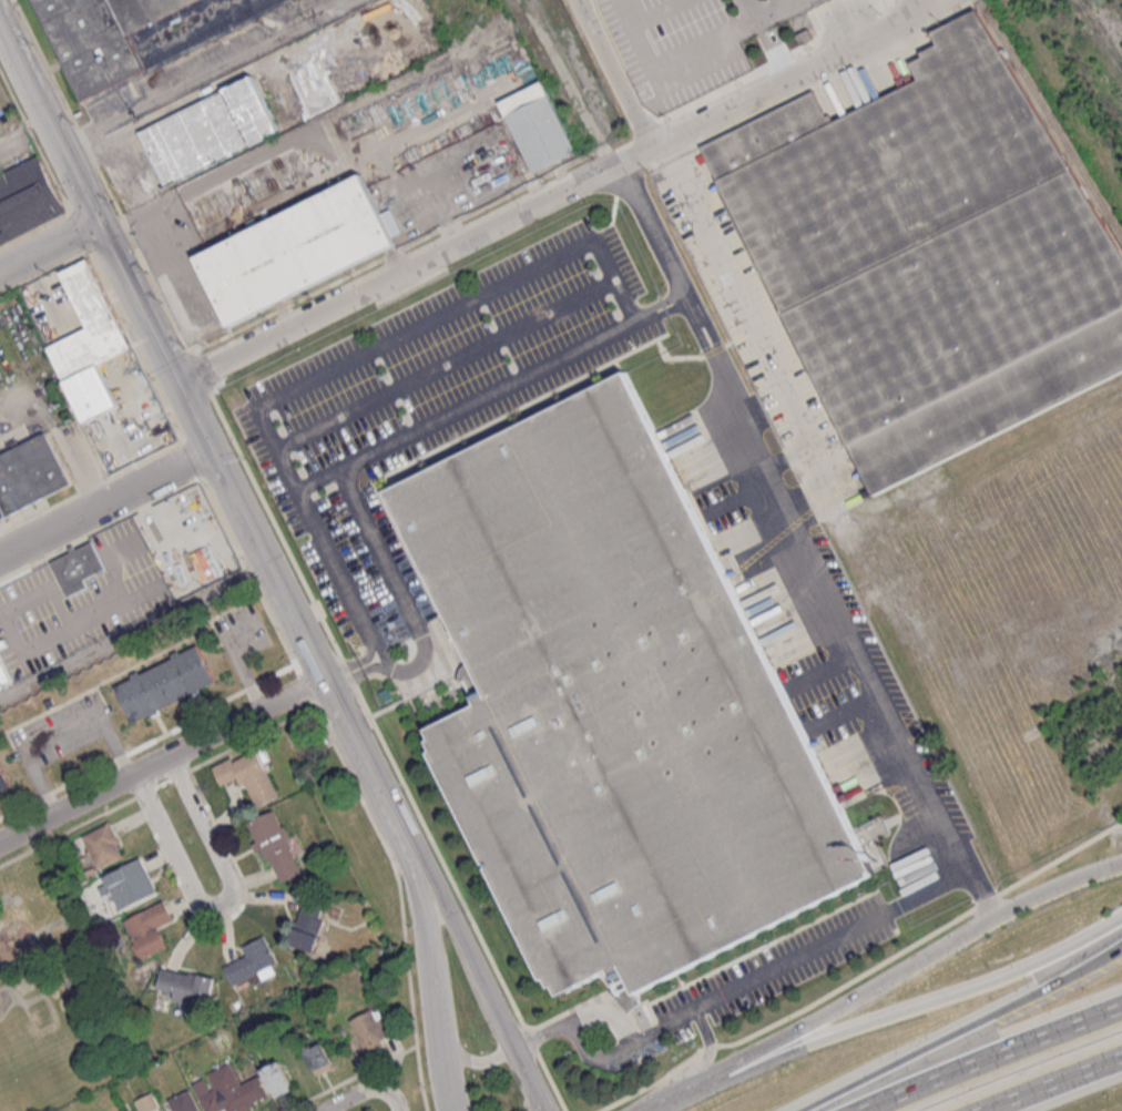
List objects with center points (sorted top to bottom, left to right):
road: (757, 10)
road: (763, 21)
building: (132, 32)
road: (785, 63)
road: (698, 69)
road: (207, 74)
road: (783, 80)
building: (537, 128)
building: (207, 129)
road: (48, 130)
building: (25, 197)
road: (163, 239)
road: (657, 239)
road: (48, 247)
building: (294, 249)
building: (930, 257)
road: (701, 262)
road: (410, 266)
road: (696, 317)
road: (642, 318)
road: (153, 336)
building: (88, 343)
road: (449, 361)
parking lot: (428, 404)
building: (31, 475)
road: (320, 480)
road: (104, 503)
building: (187, 537)
building: (76, 567)
road: (350, 589)
road: (296, 626)
road: (134, 635)
road: (857, 639)
road: (355, 666)
road: (825, 669)
building: (4, 674)
road: (358, 675)
building: (165, 683)
building: (616, 705)
road: (845, 710)
road: (59, 732)
road: (161, 758)
building: (248, 776)
building: (3, 782)
building: (103, 846)
building: (276, 846)
building: (127, 884)
road: (220, 903)
building: (308, 927)
building: (149, 929)
road: (427, 954)
road: (467, 956)
building: (253, 961)
road: (909, 967)
building: (187, 986)
road: (739, 987)
park: (57, 996)
road: (916, 1007)
building: (370, 1029)
road: (962, 1029)
building: (318, 1058)
road: (991, 1058)
road: (478, 1062)
building: (277, 1078)
road: (1051, 1083)
building: (229, 1090)
road: (675, 1097)
building: (183, 1102)
building: (146, 1103)

